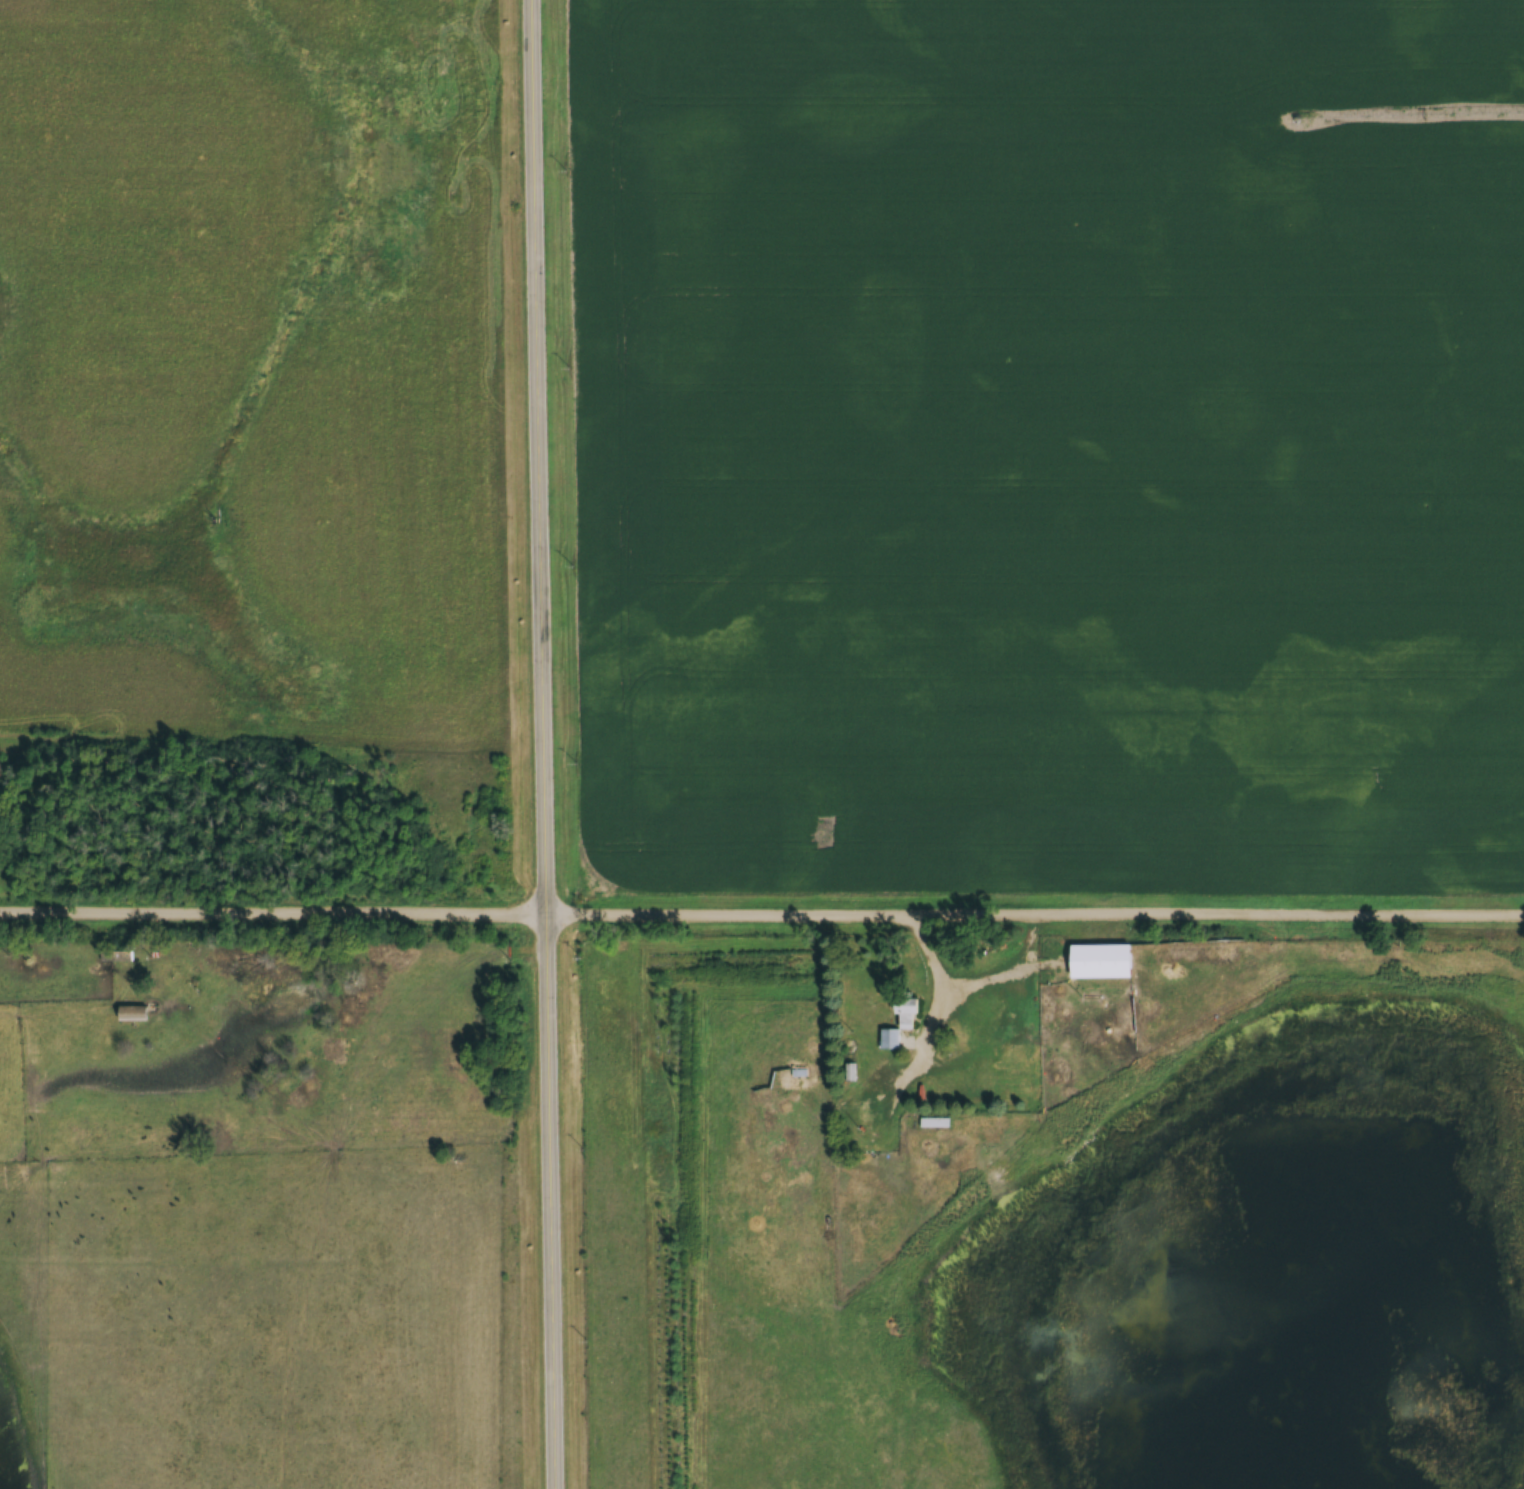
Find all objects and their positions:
road: (548, 744)
road: (761, 917)
building: (1102, 961)
building: (133, 1014)
building: (902, 1024)
building: (850, 1072)
building: (869, 1109)
building: (936, 1119)

